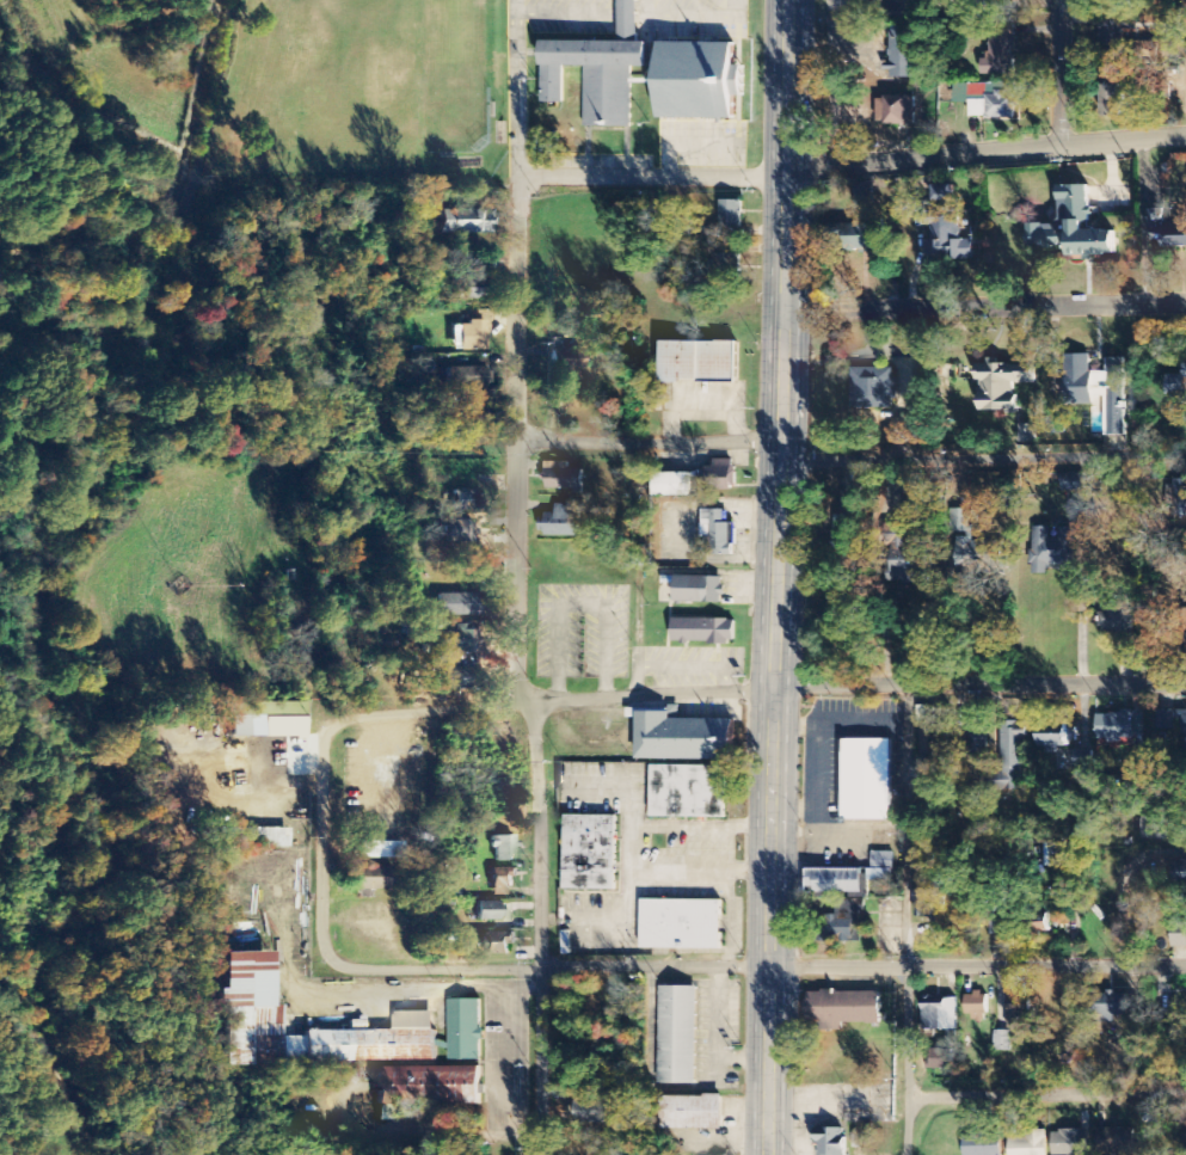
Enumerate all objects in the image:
building: (1004, 2)
building: (1111, 36)
building: (1150, 41)
building: (902, 55)
building: (1000, 55)
building: (598, 68)
road: (1059, 73)
building: (700, 79)
building: (991, 102)
building: (1111, 102)
building: (899, 111)
road: (902, 161)
building: (944, 193)
building: (864, 195)
building: (731, 217)
building: (465, 222)
building: (1073, 227)
building: (1167, 229)
building: (947, 236)
building: (859, 239)
building: (726, 265)
building: (466, 290)
road: (983, 307)
building: (471, 336)
building: (698, 362)
building: (469, 377)
building: (1001, 385)
building: (873, 389)
building: (1098, 389)
road: (516, 393)
building: (1026, 435)
road: (647, 441)
road: (982, 461)
building: (563, 478)
building: (718, 478)
building: (1073, 483)
building: (671, 485)
building: (1180, 499)
building: (461, 500)
building: (844, 500)
building: (561, 522)
building: (842, 528)
building: (457, 532)
building: (718, 533)
building: (1056, 545)
building: (973, 549)
road: (774, 577)
building: (698, 590)
building: (457, 604)
building: (1118, 620)
building: (702, 632)
building: (456, 641)
building: (1185, 643)
building: (461, 678)
road: (755, 688)
building: (268, 720)
building: (1169, 720)
building: (1114, 727)
building: (682, 738)
building: (1052, 738)
building: (977, 742)
building: (1012, 752)
building: (867, 780)
building: (688, 793)
building: (256, 838)
road: (321, 842)
building: (502, 848)
building: (380, 850)
building: (590, 853)
building: (881, 868)
building: (1180, 873)
building: (500, 881)
building: (834, 881)
building: (932, 902)
building: (486, 911)
road: (907, 920)
building: (681, 926)
road: (539, 927)
building: (841, 929)
building: (1178, 935)
building: (497, 944)
road: (754, 965)
building: (976, 1007)
building: (844, 1008)
building: (1108, 1008)
building: (252, 1010)
building: (1018, 1013)
building: (940, 1016)
building: (465, 1031)
building: (677, 1037)
building: (1002, 1042)
building: (942, 1061)
building: (426, 1086)
road: (1047, 1095)
building: (591, 1112)
building: (692, 1113)
building: (1117, 1141)
building: (829, 1142)
building: (1070, 1143)
building: (1030, 1144)
building: (982, 1145)
road: (344, 1150)

